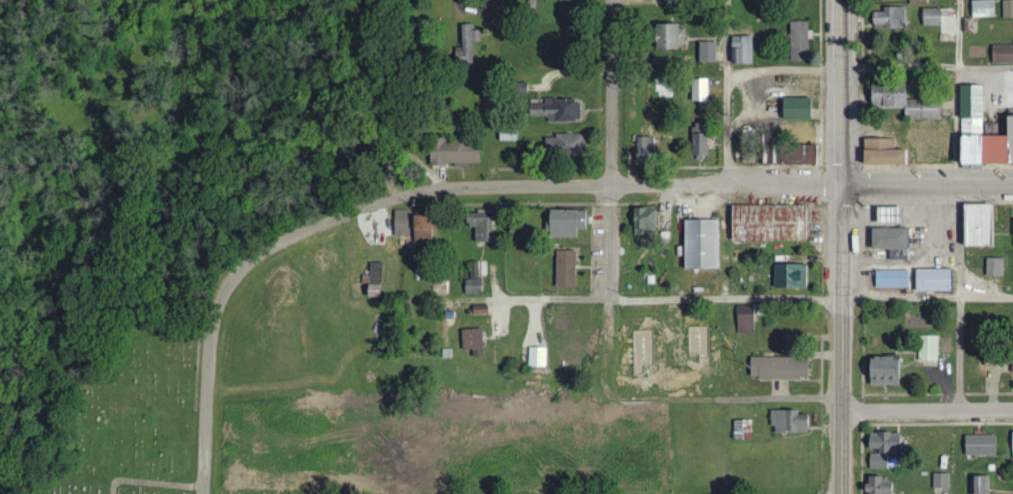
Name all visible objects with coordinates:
building: (891, 0)
building: (921, 2)
building: (988, 9)
building: (1008, 10)
building: (935, 18)
building: (894, 19)
building: (677, 36)
building: (471, 39)
building: (804, 42)
building: (747, 50)
building: (711, 52)
building: (1004, 55)
road: (866, 70)
building: (705, 91)
road: (725, 93)
road: (838, 93)
building: (910, 102)
building: (803, 109)
building: (562, 111)
building: (985, 131)
building: (513, 135)
building: (570, 145)
building: (800, 147)
road: (605, 150)
building: (649, 151)
building: (460, 153)
building: (891, 153)
road: (611, 187)
road: (925, 187)
road: (953, 204)
building: (405, 221)
building: (650, 222)
building: (431, 223)
building: (572, 223)
building: (774, 224)
building: (486, 226)
building: (987, 226)
building: (896, 239)
building: (707, 245)
building: (997, 268)
building: (570, 270)
building: (795, 276)
building: (479, 278)
building: (896, 280)
building: (377, 281)
building: (938, 281)
road: (925, 296)
road: (220, 298)
road: (667, 300)
building: (750, 319)
road: (839, 340)
building: (477, 342)
building: (931, 349)
building: (541, 358)
building: (996, 358)
building: (785, 369)
building: (892, 372)
road: (780, 396)
road: (926, 411)
park: (140, 415)
building: (794, 423)
building: (747, 430)
building: (984, 446)
building: (888, 450)
building: (943, 482)
building: (984, 485)
building: (885, 486)

